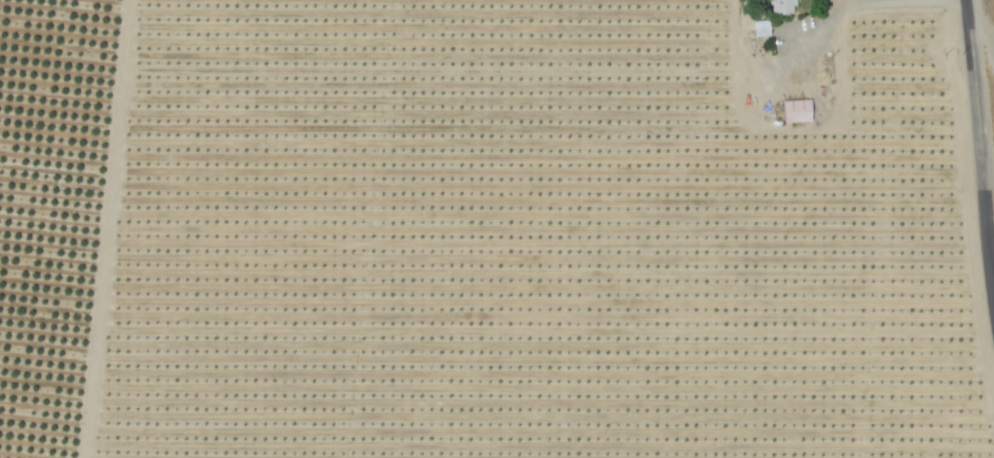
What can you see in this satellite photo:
road: (870, 3)
building: (781, 7)
road: (980, 34)
building: (795, 110)
road: (978, 149)
crop: (465, 232)

